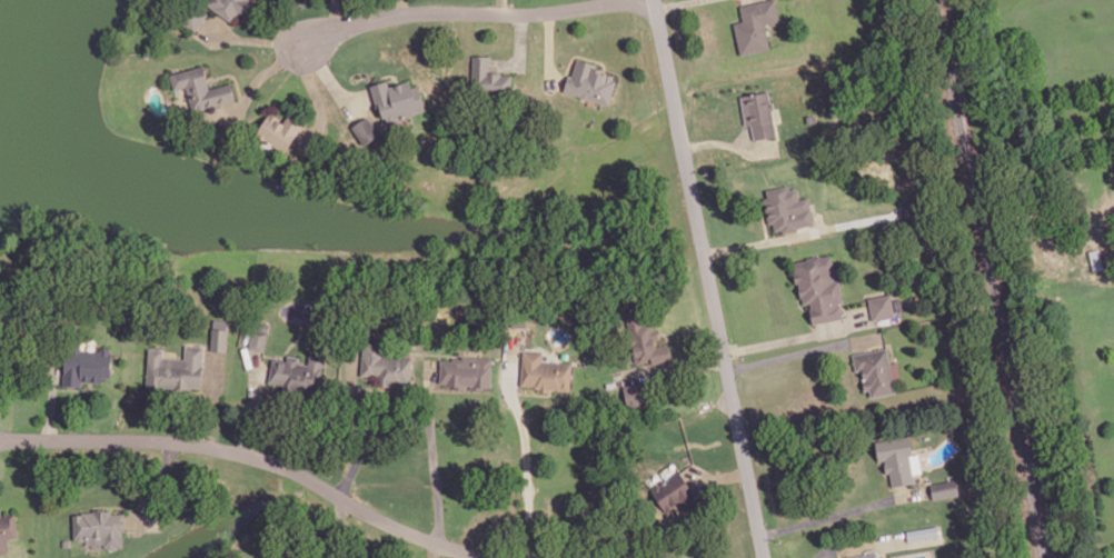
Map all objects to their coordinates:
road: (673, 2)
building: (229, 6)
road: (404, 6)
road: (501, 6)
road: (460, 11)
building: (191, 14)
road: (336, 14)
road: (241, 20)
building: (755, 23)
street lamp: (450, 24)
road: (255, 38)
road: (520, 47)
road: (549, 47)
street lamp: (272, 50)
road: (578, 54)
road: (235, 74)
building: (488, 74)
road: (380, 77)
road: (257, 79)
road: (331, 80)
building: (590, 81)
building: (201, 87)
road: (315, 94)
road: (358, 96)
building: (397, 98)
building: (758, 112)
building: (279, 129)
building: (366, 129)
road: (726, 142)
building: (787, 207)
road: (764, 221)
road: (762, 240)
road: (709, 279)
railway: (992, 279)
building: (819, 286)
building: (2, 288)
building: (882, 305)
building: (260, 323)
building: (219, 335)
road: (794, 337)
building: (258, 338)
building: (646, 341)
road: (803, 352)
building: (84, 362)
building: (385, 363)
building: (173, 367)
road: (673, 367)
building: (467, 370)
building: (875, 370)
building: (298, 371)
building: (545, 371)
road: (76, 387)
building: (637, 390)
road: (533, 391)
road: (210, 399)
road: (52, 400)
road: (251, 401)
road: (357, 427)
road: (432, 452)
road: (527, 455)
road: (256, 456)
building: (896, 456)
road: (718, 477)
road: (153, 485)
building: (944, 487)
building: (674, 490)
road: (843, 510)
building: (101, 526)
building: (7, 527)
road: (325, 530)
building: (67, 541)
road: (859, 542)
road: (434, 550)
building: (269, 554)
building: (865, 555)

